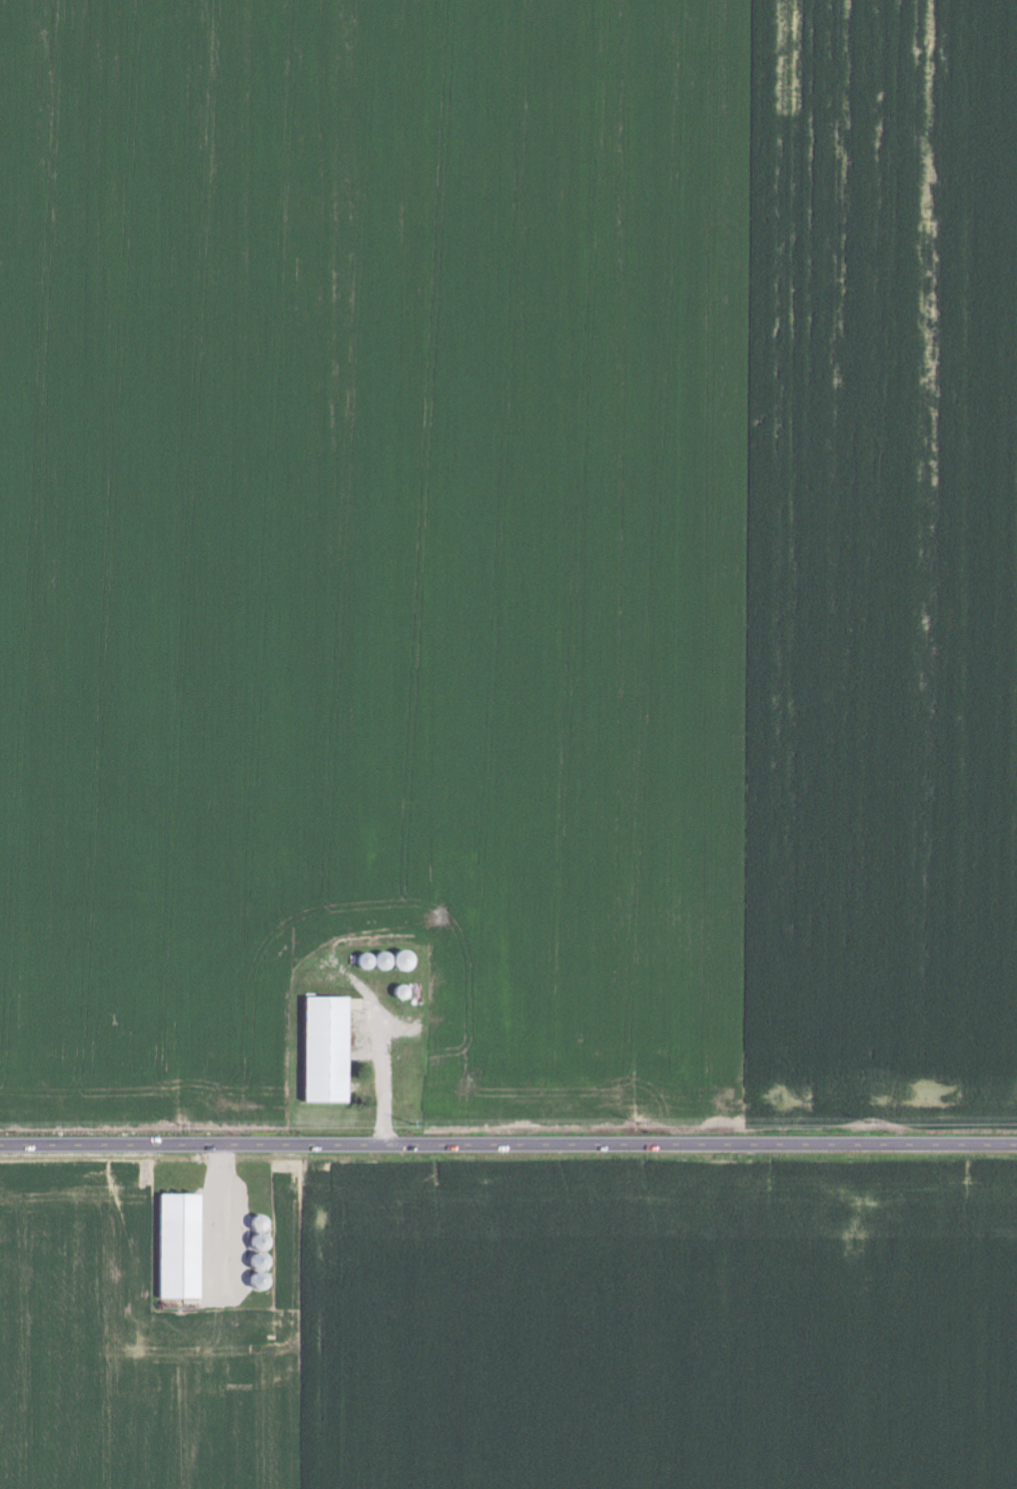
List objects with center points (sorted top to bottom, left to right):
building: (332, 1051)
road: (508, 1147)
building: (185, 1248)

